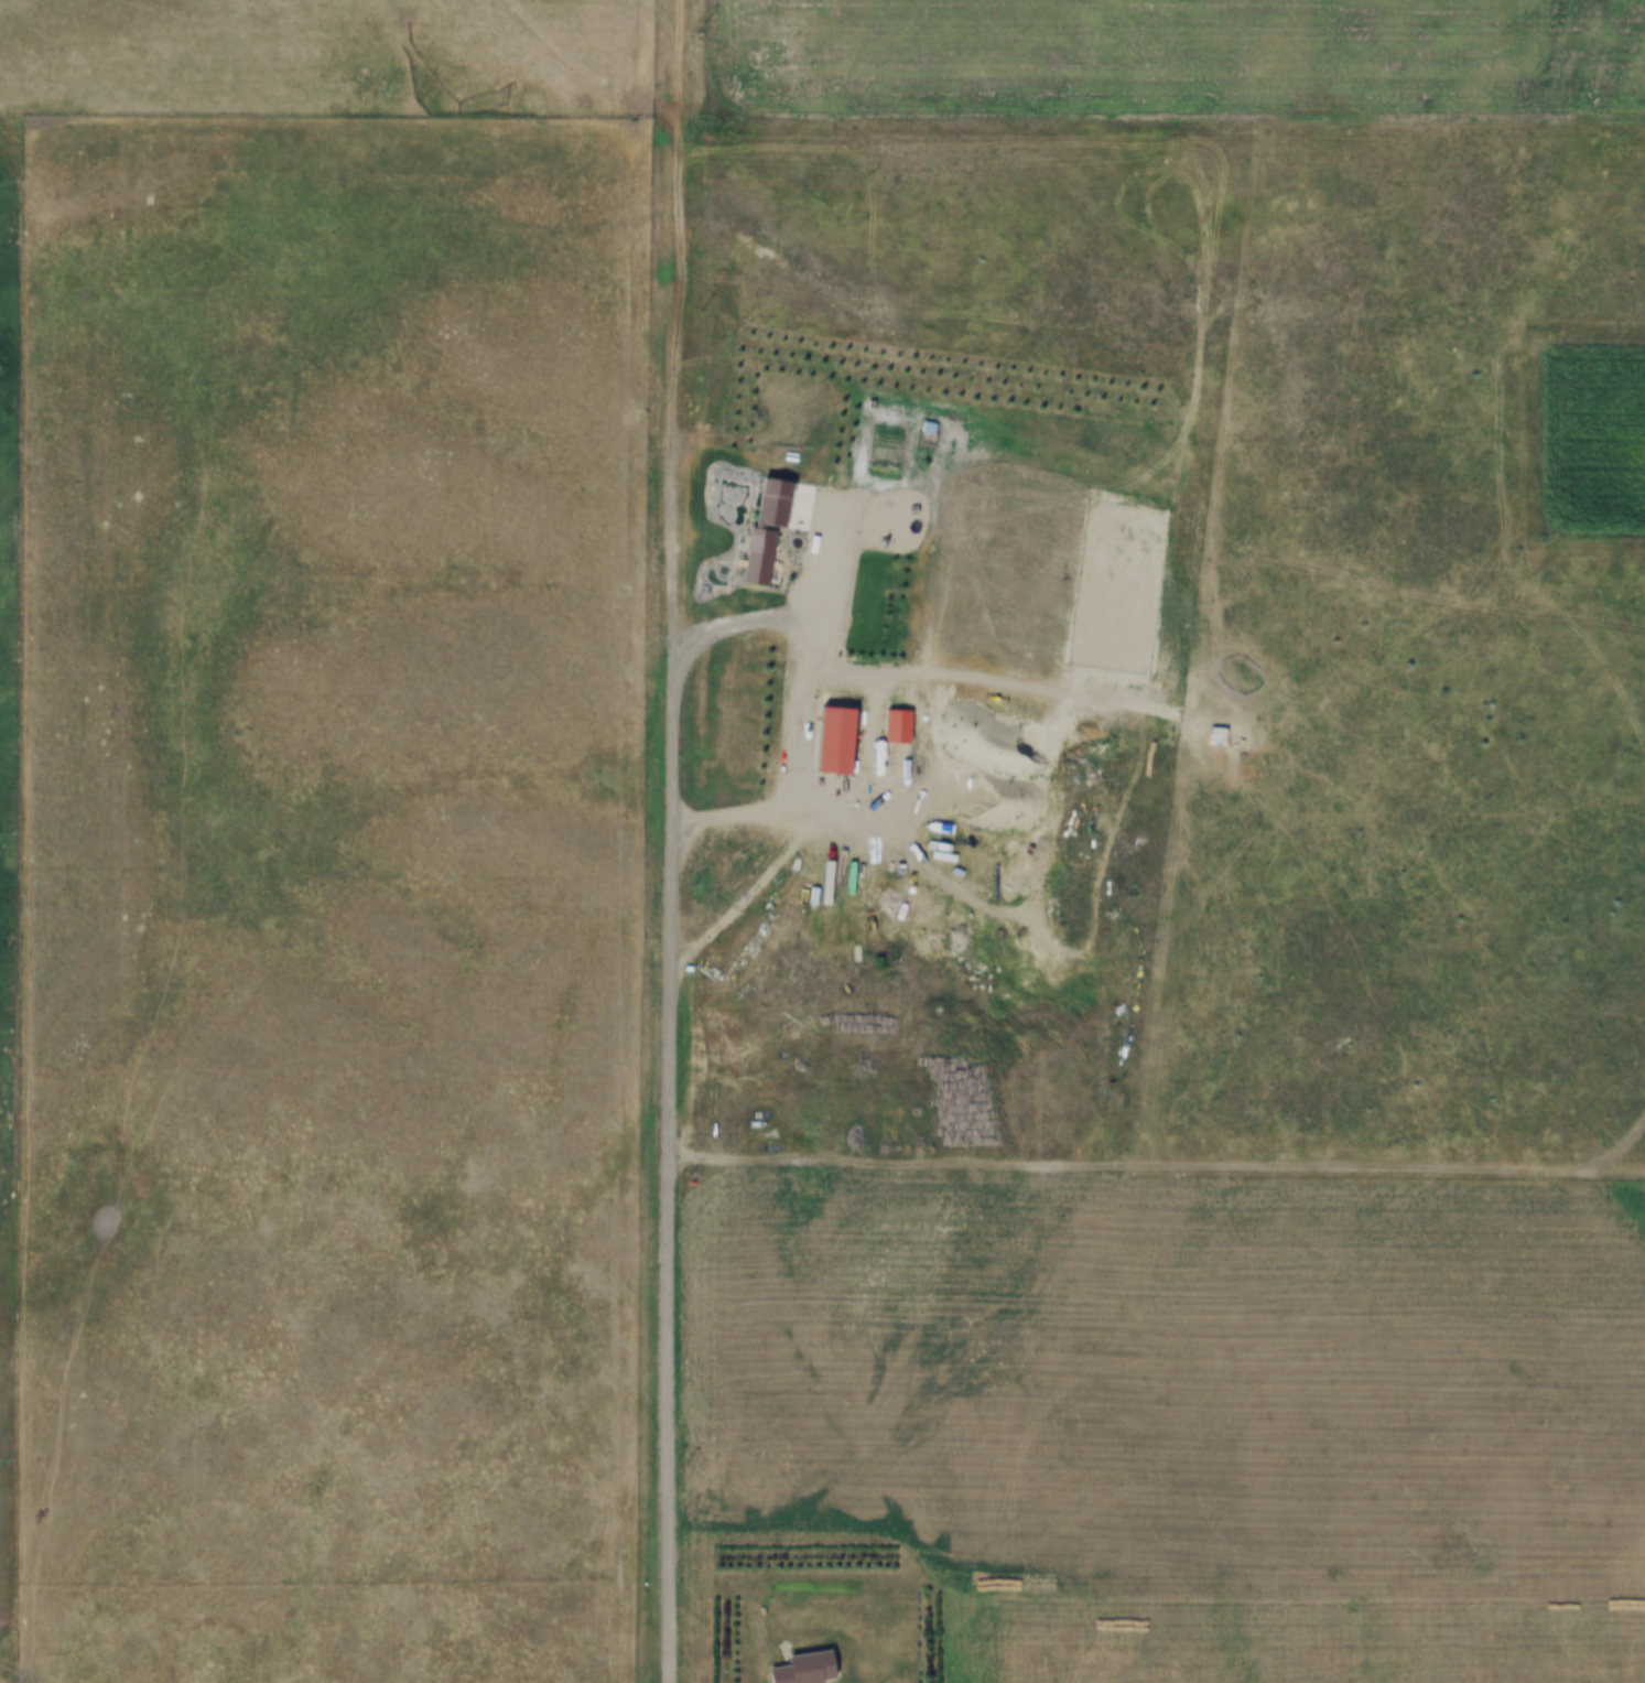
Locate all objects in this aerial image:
road: (678, 330)
building: (770, 527)
road: (663, 1170)
building: (810, 1669)

